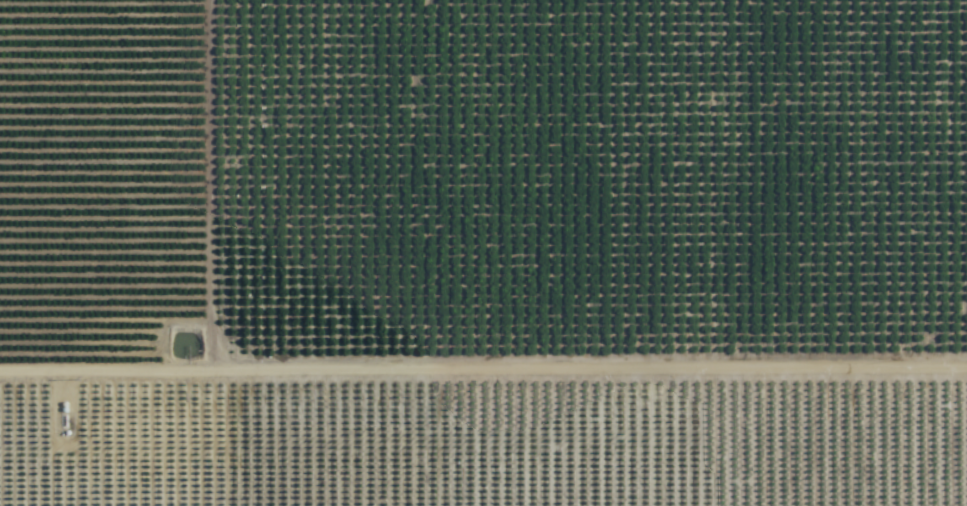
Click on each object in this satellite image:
crop: (483, 253)
road: (483, 372)
wastewater plant: (155, 440)

